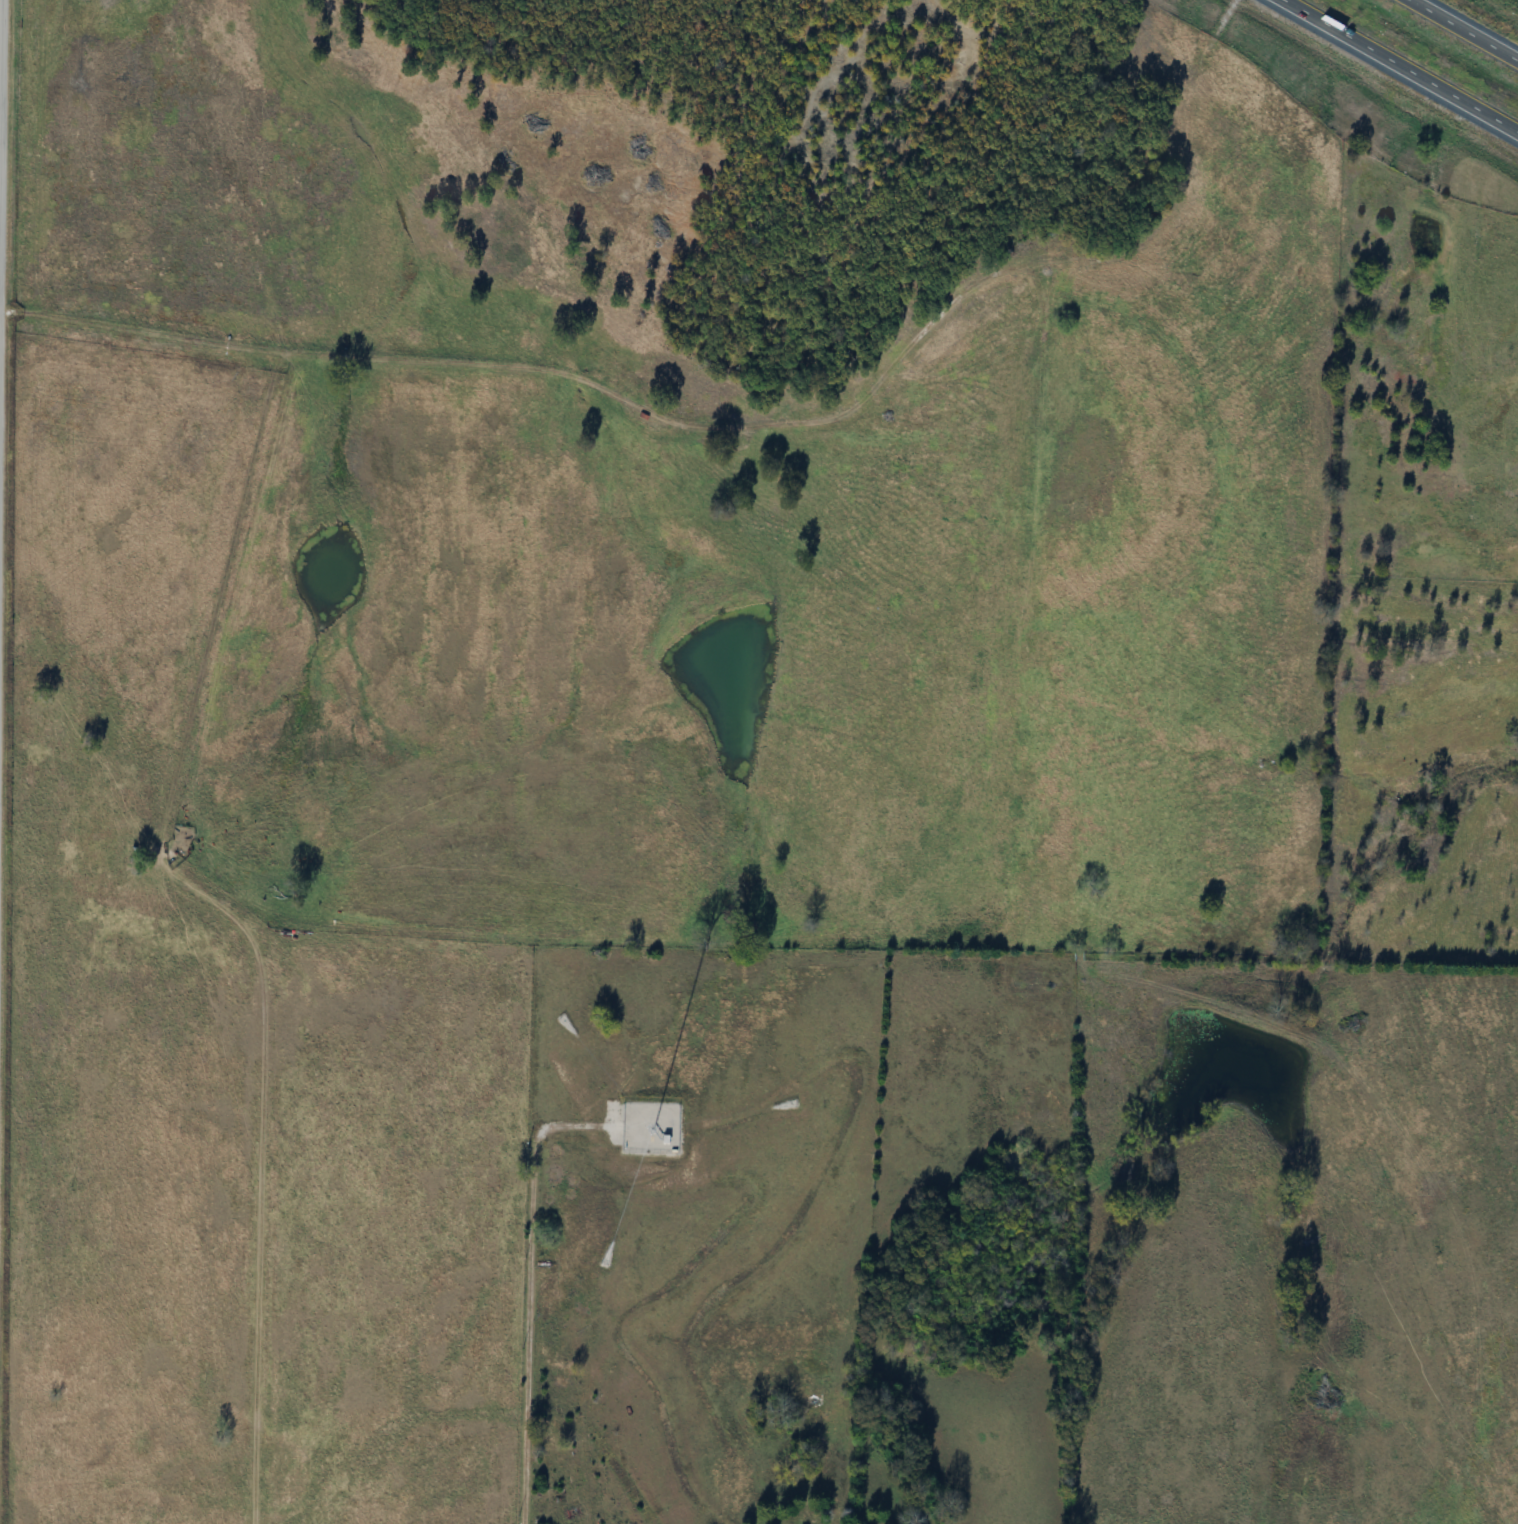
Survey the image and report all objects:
road: (1464, 29)
road: (1399, 66)
road: (3, 108)
road: (528, 1331)

